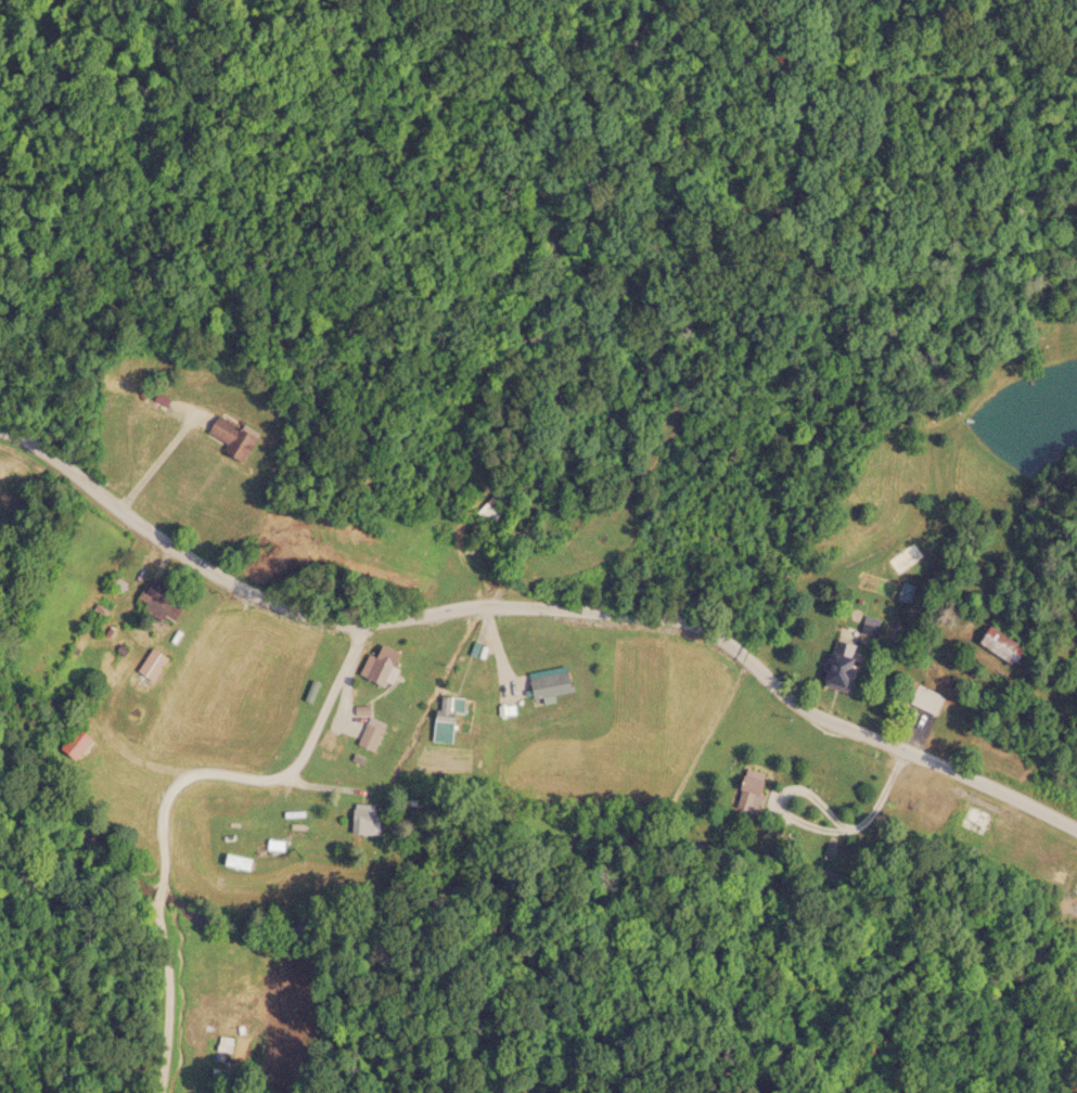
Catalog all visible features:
building: (235, 435)
building: (493, 504)
building: (897, 564)
building: (120, 582)
building: (166, 599)
road: (538, 604)
building: (869, 623)
building: (995, 642)
building: (156, 661)
building: (388, 664)
building: (834, 666)
building: (555, 682)
building: (923, 696)
building: (451, 703)
building: (374, 731)
road: (169, 795)
building: (362, 816)
building: (972, 816)
building: (214, 1090)

